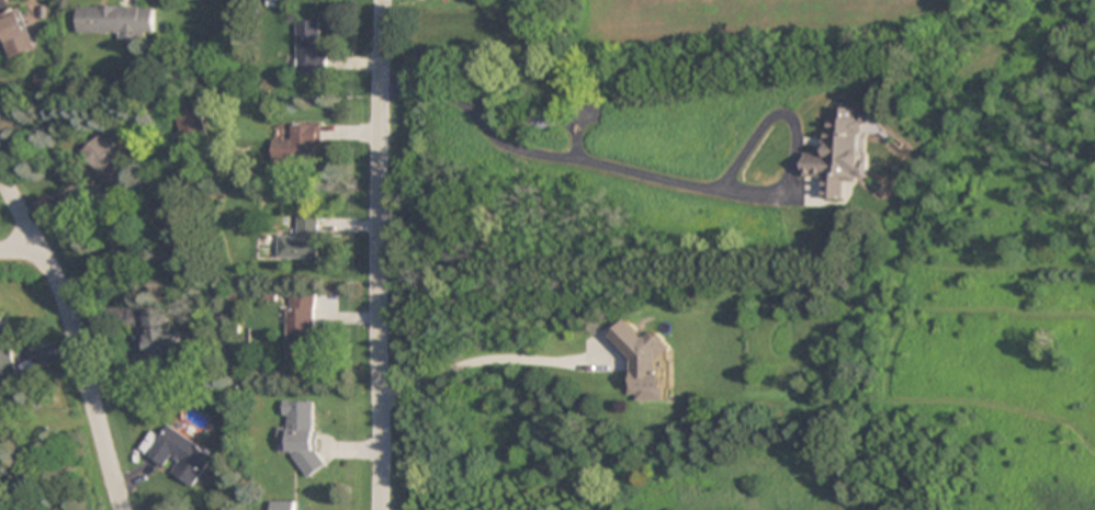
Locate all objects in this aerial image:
building: (117, 21)
building: (15, 34)
building: (311, 49)
building: (192, 126)
building: (300, 145)
building: (840, 152)
building: (114, 172)
road: (665, 177)
building: (303, 240)
road: (20, 251)
road: (380, 254)
building: (302, 327)
building: (161, 337)
road: (75, 338)
building: (7, 352)
building: (643, 362)
building: (302, 434)
building: (180, 455)
building: (282, 506)

